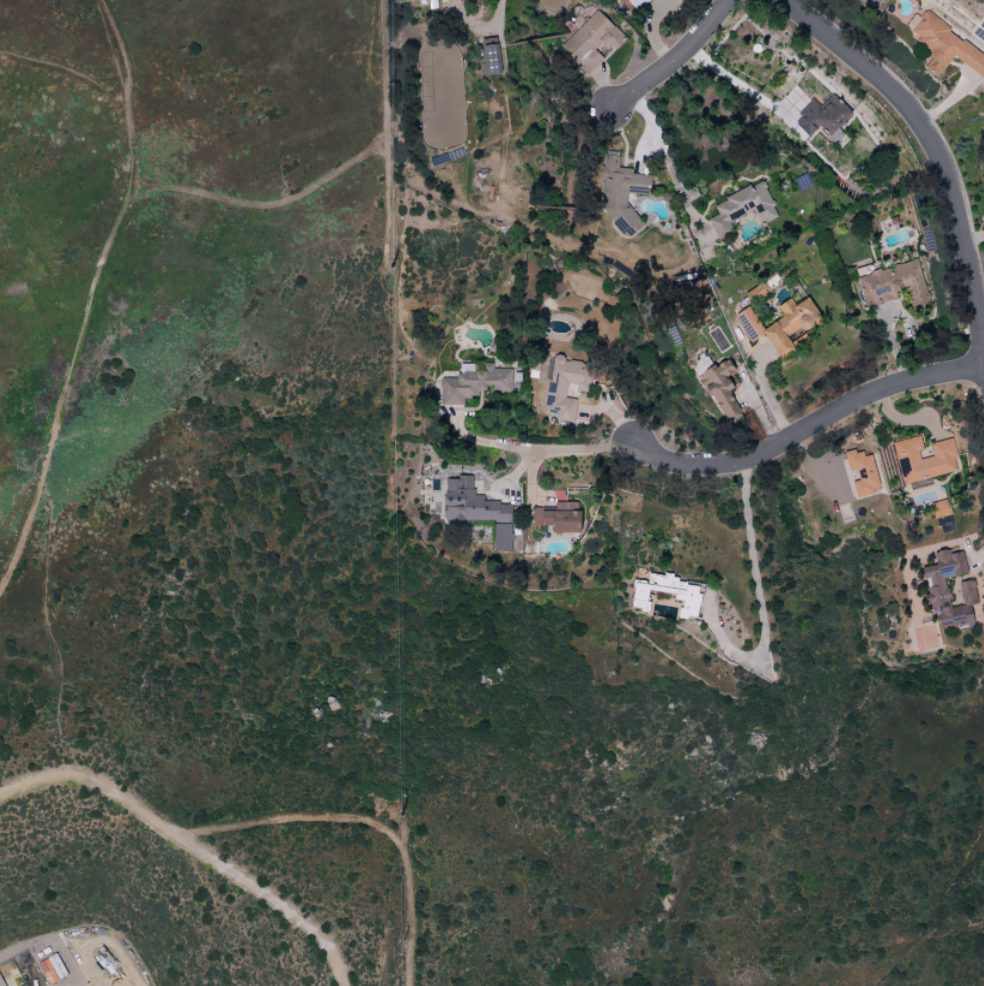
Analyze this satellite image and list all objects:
building: (633, 5)
building: (943, 45)
building: (490, 59)
road: (672, 60)
road: (63, 70)
road: (737, 86)
power tower: (390, 91)
building: (820, 116)
road: (932, 147)
road: (666, 157)
building: (619, 191)
building: (741, 207)
road: (974, 238)
power tower: (395, 266)
building: (893, 284)
road: (91, 293)
building: (472, 382)
building: (563, 387)
building: (718, 387)
road: (767, 395)
road: (807, 426)
road: (541, 449)
building: (923, 459)
building: (861, 472)
building: (475, 510)
building: (941, 515)
building: (556, 517)
road: (8, 552)
building: (935, 587)
road: (756, 591)
building: (685, 596)
power tower: (400, 811)
road: (190, 846)
power tower: (400, 932)
building: (51, 968)

